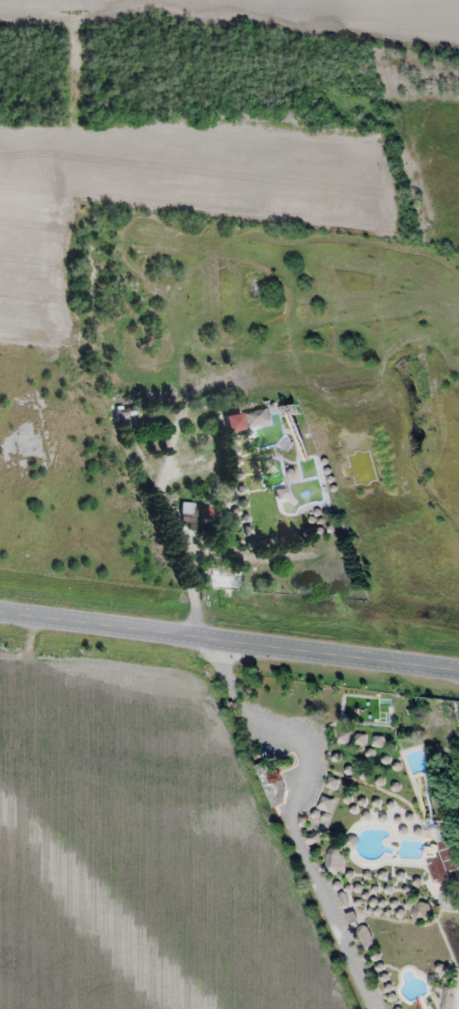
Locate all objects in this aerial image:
road: (229, 644)

